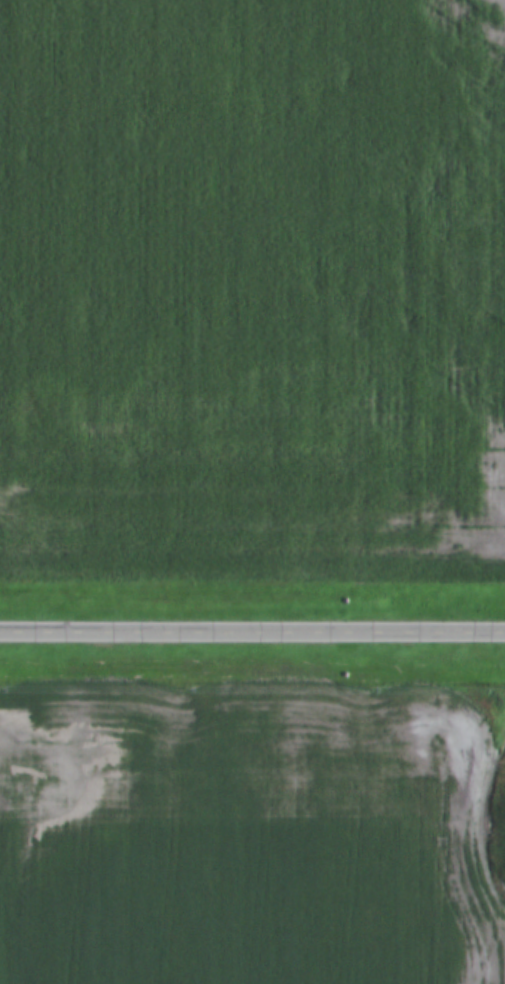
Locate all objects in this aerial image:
road: (252, 630)

